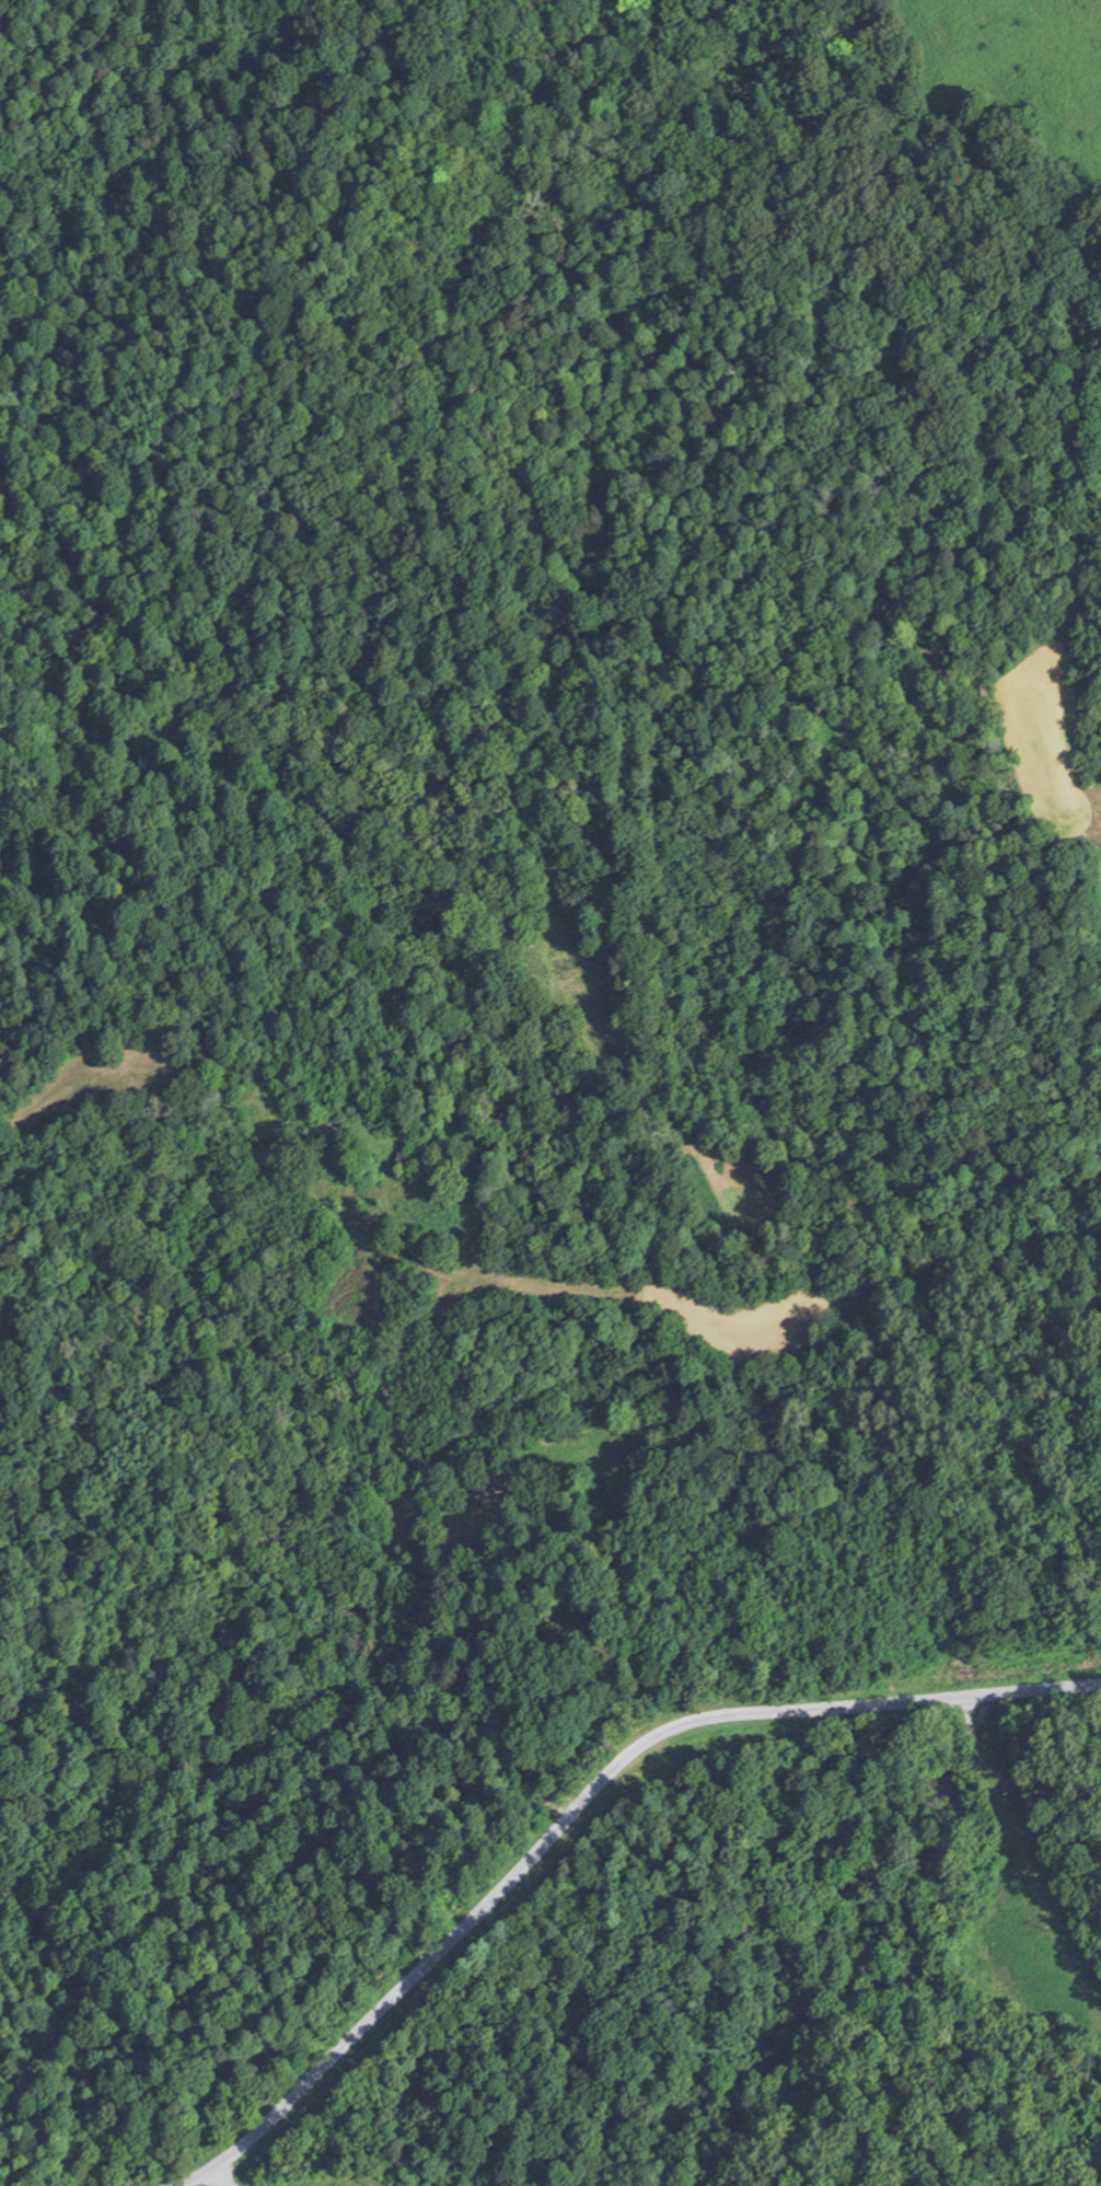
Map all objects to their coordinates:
building: (412, 1164)
road: (350, 1180)
road: (432, 1532)
road: (580, 1805)
road: (1023, 1859)
road: (1004, 1957)
road: (217, 2178)

